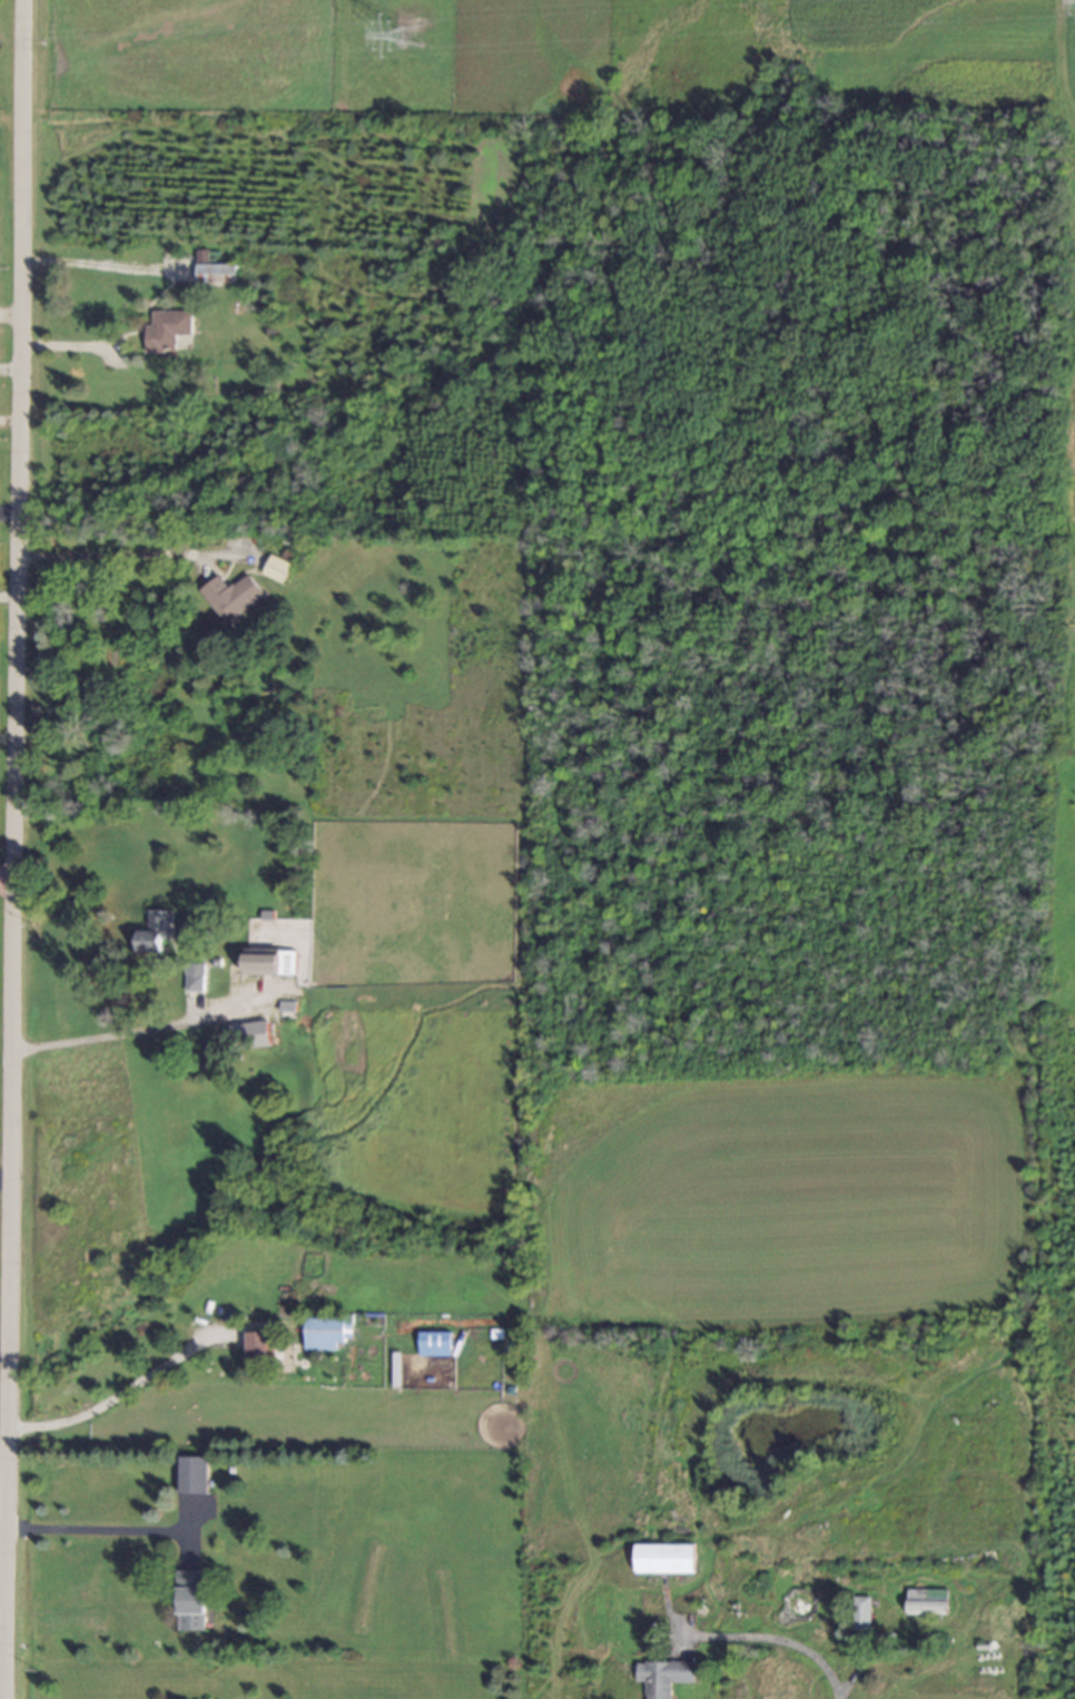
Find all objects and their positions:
power tower: (403, 48)
crop: (935, 52)
road: (103, 257)
building: (213, 271)
road: (10, 317)
building: (167, 330)
road: (10, 373)
crop: (1069, 553)
road: (109, 559)
building: (276, 569)
building: (231, 597)
road: (8, 602)
road: (12, 848)
road: (6, 875)
building: (155, 932)
building: (270, 962)
building: (195, 978)
building: (250, 1035)
road: (108, 1040)
crop: (641, 1128)
road: (4, 1182)
building: (326, 1333)
building: (434, 1344)
building: (256, 1346)
road: (111, 1402)
road: (2, 1455)
building: (193, 1475)
road: (89, 1534)
building: (664, 1559)
building: (191, 1601)
building: (925, 1602)
building: (860, 1613)
road: (783, 1647)
building: (663, 1677)

